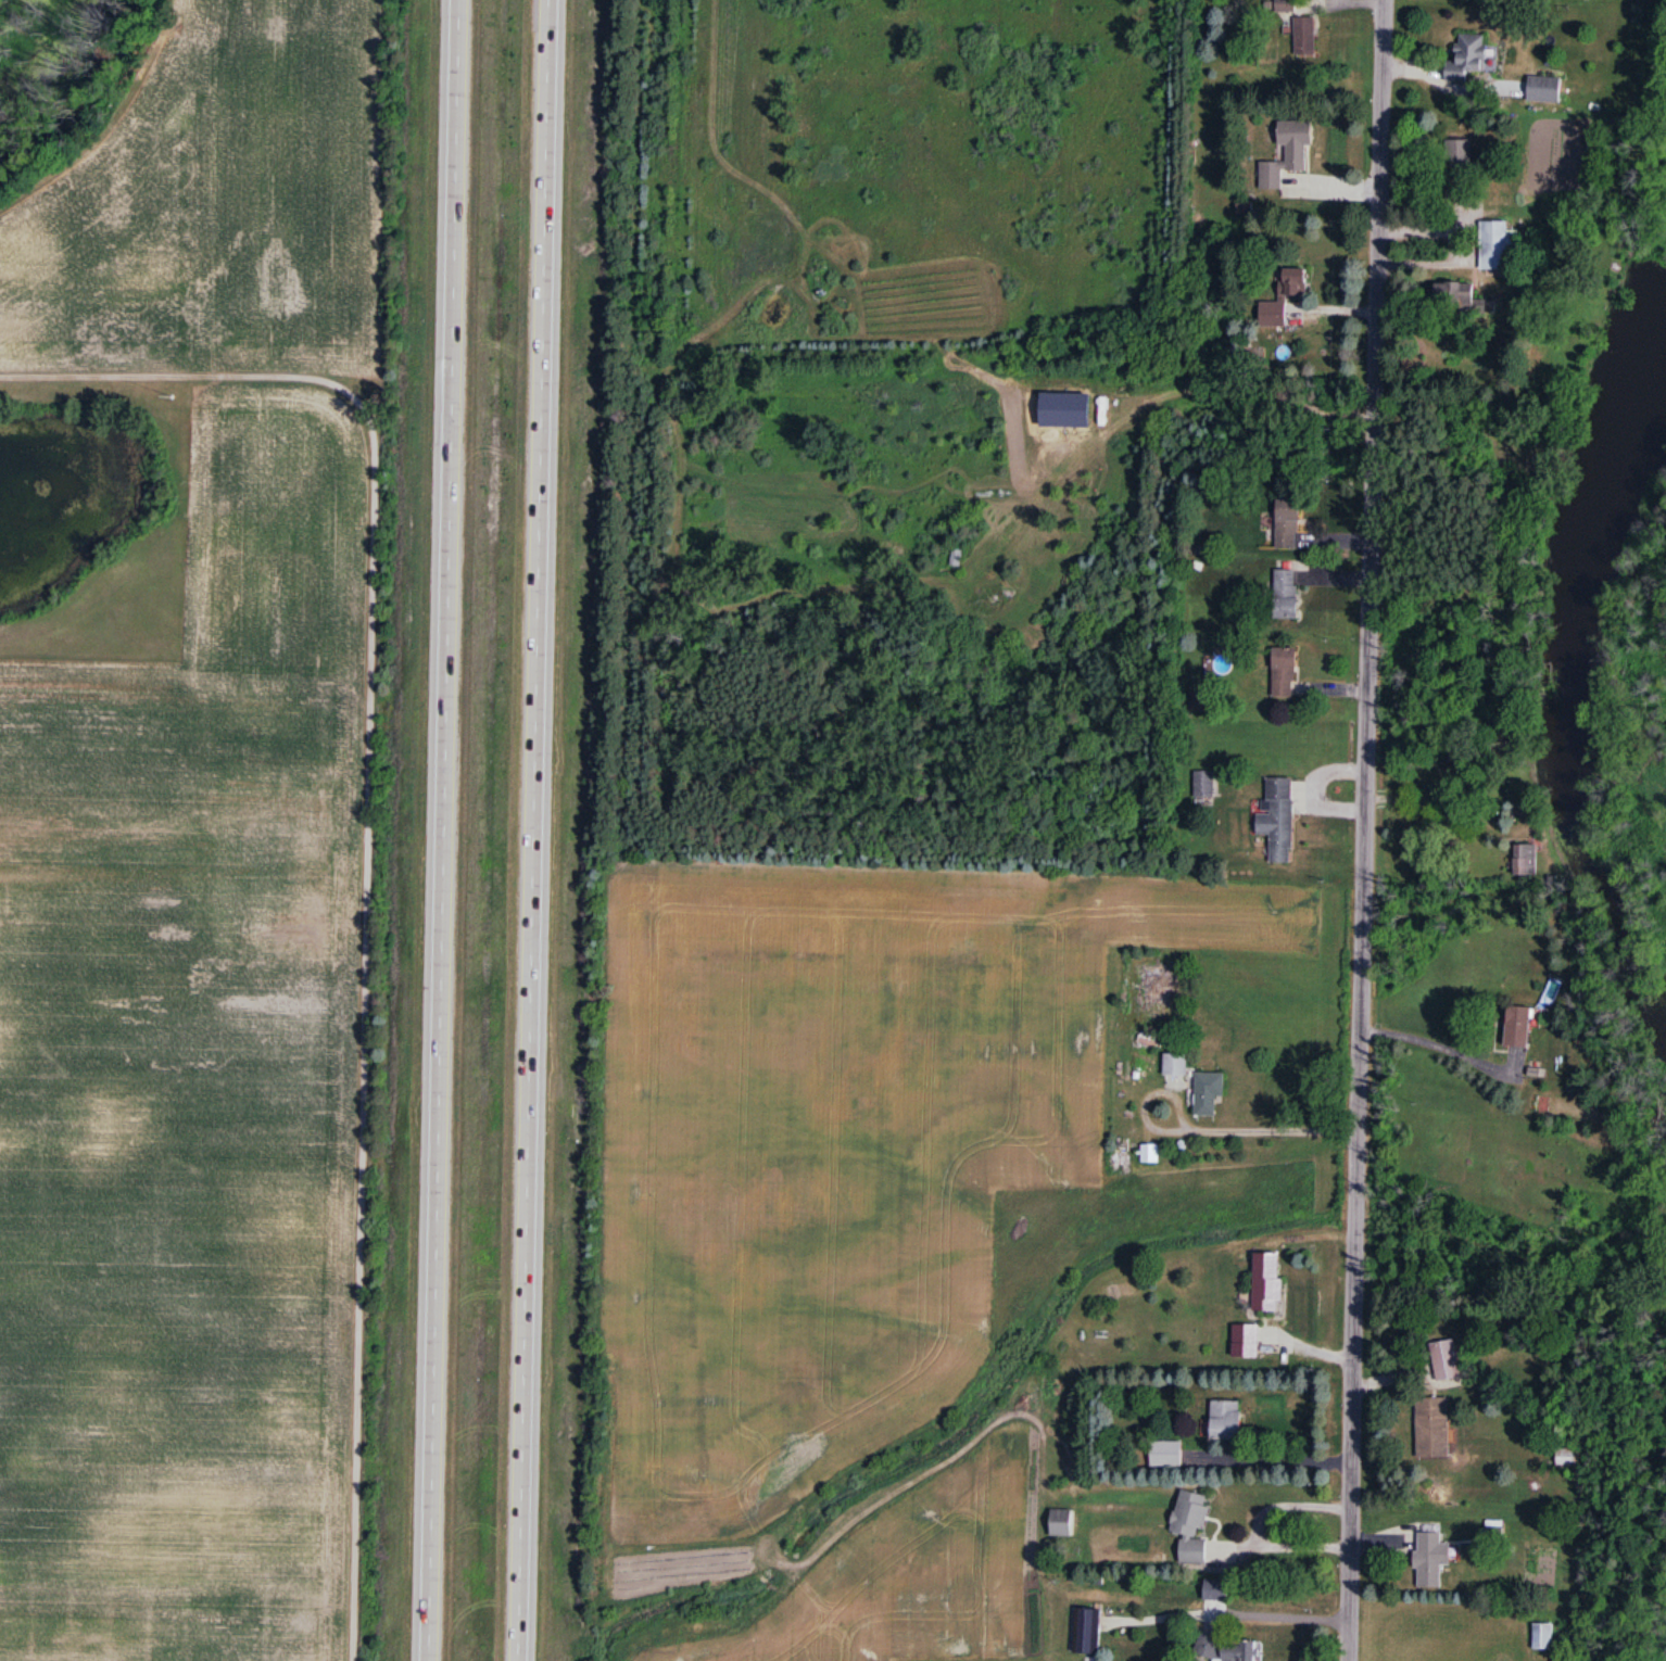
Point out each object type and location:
building: (1285, 5)
building: (1304, 36)
building: (1467, 58)
building: (1544, 89)
building: (1288, 153)
building: (1459, 159)
building: (1497, 245)
building: (1454, 295)
building: (1284, 297)
building: (1287, 524)
building: (957, 558)
building: (1286, 594)
building: (1285, 672)
building: (1195, 698)
river: (1567, 706)
building: (1204, 784)
road: (1425, 798)
building: (1278, 819)
road: (441, 829)
road: (535, 829)
road: (1362, 829)
building: (1525, 860)
building: (1157, 986)
building: (1520, 1026)
road: (1436, 1042)
building: (1195, 1083)
road: (1206, 1129)
building: (1150, 1154)
building: (1267, 1283)
building: (1246, 1343)
building: (1440, 1364)
building: (1225, 1421)
building: (1432, 1429)
building: (1166, 1455)
building: (1567, 1458)
building: (1062, 1523)
building: (1191, 1526)
building: (1431, 1559)
building: (1216, 1590)
road: (1276, 1618)
building: (1087, 1631)
building: (1543, 1637)
building: (1224, 1649)

